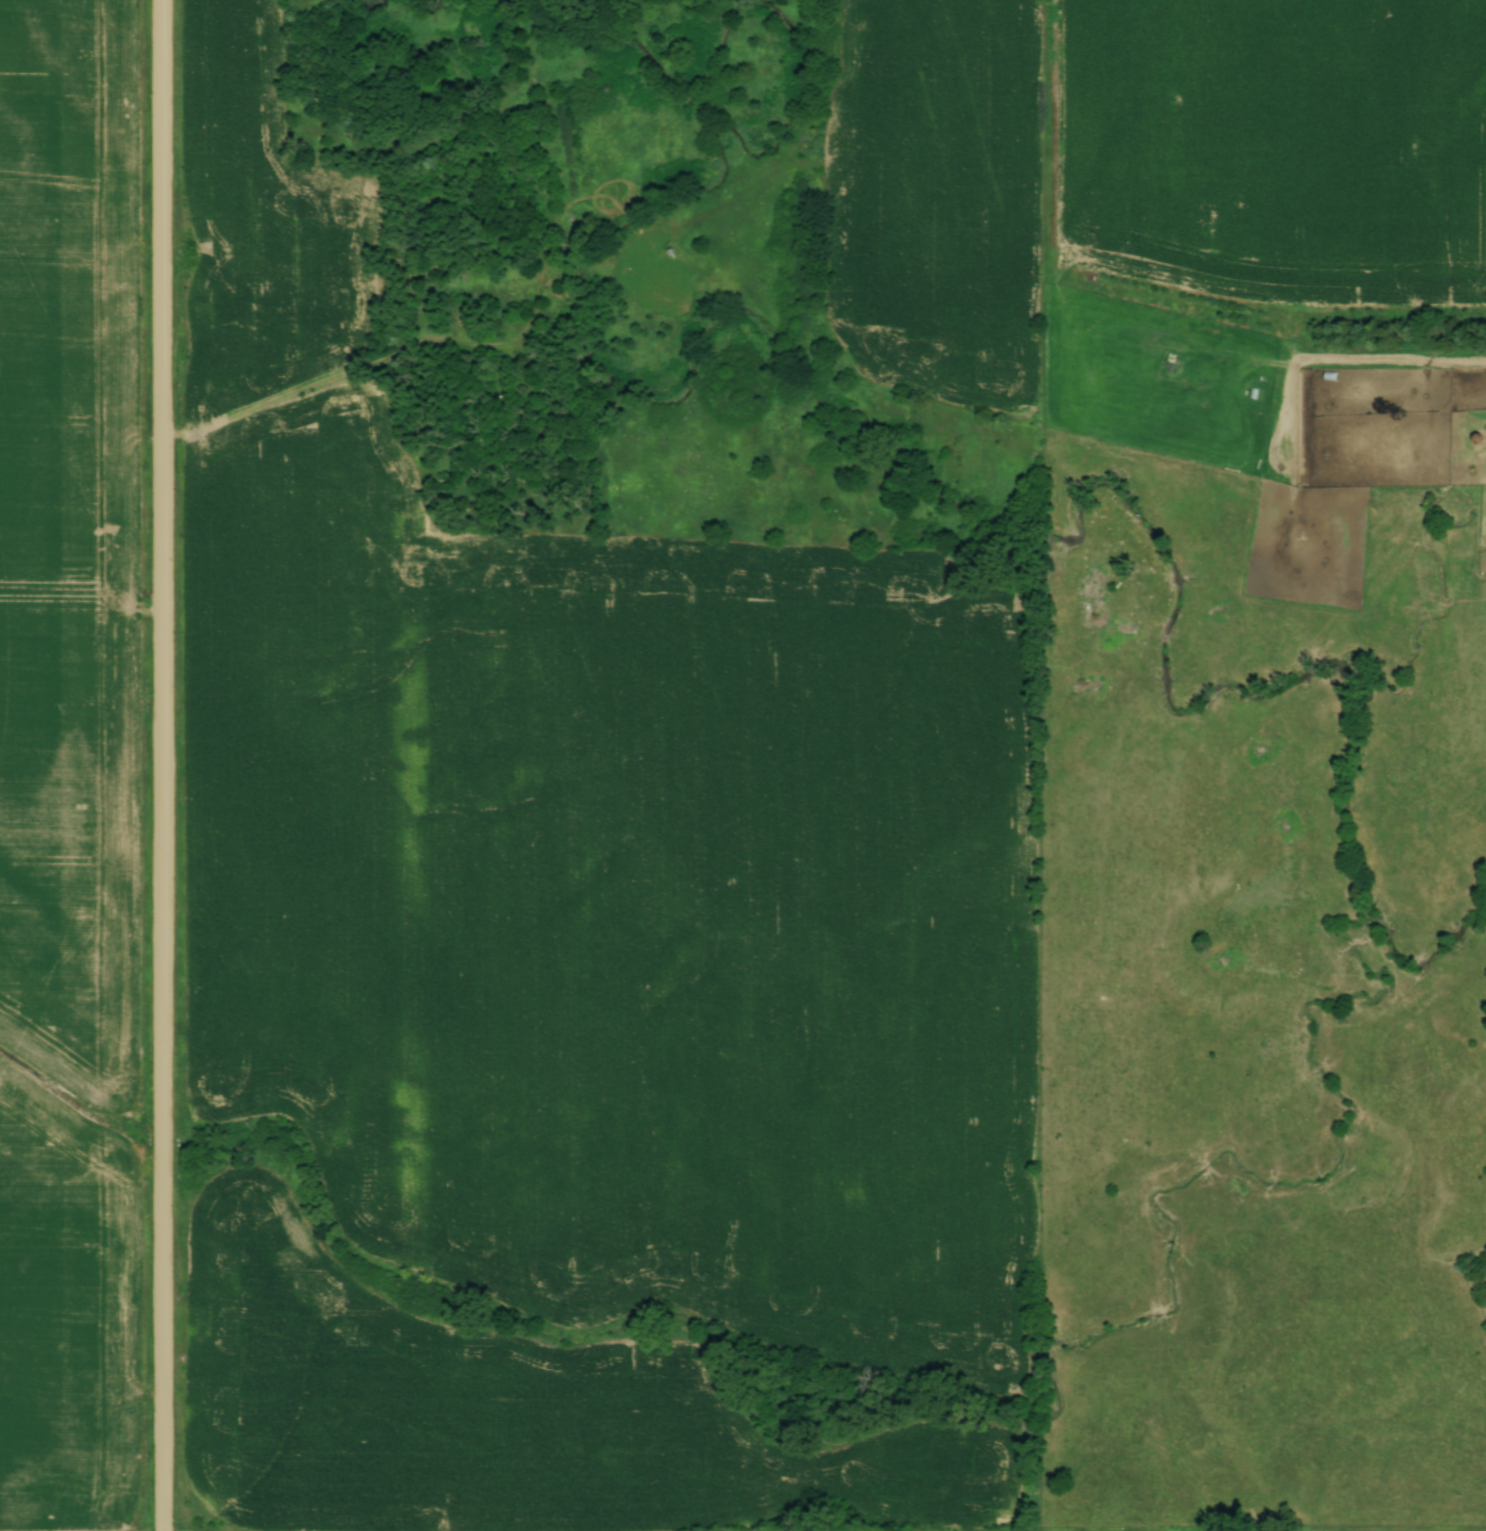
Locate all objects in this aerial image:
building: (1347, 469)
road: (162, 765)

